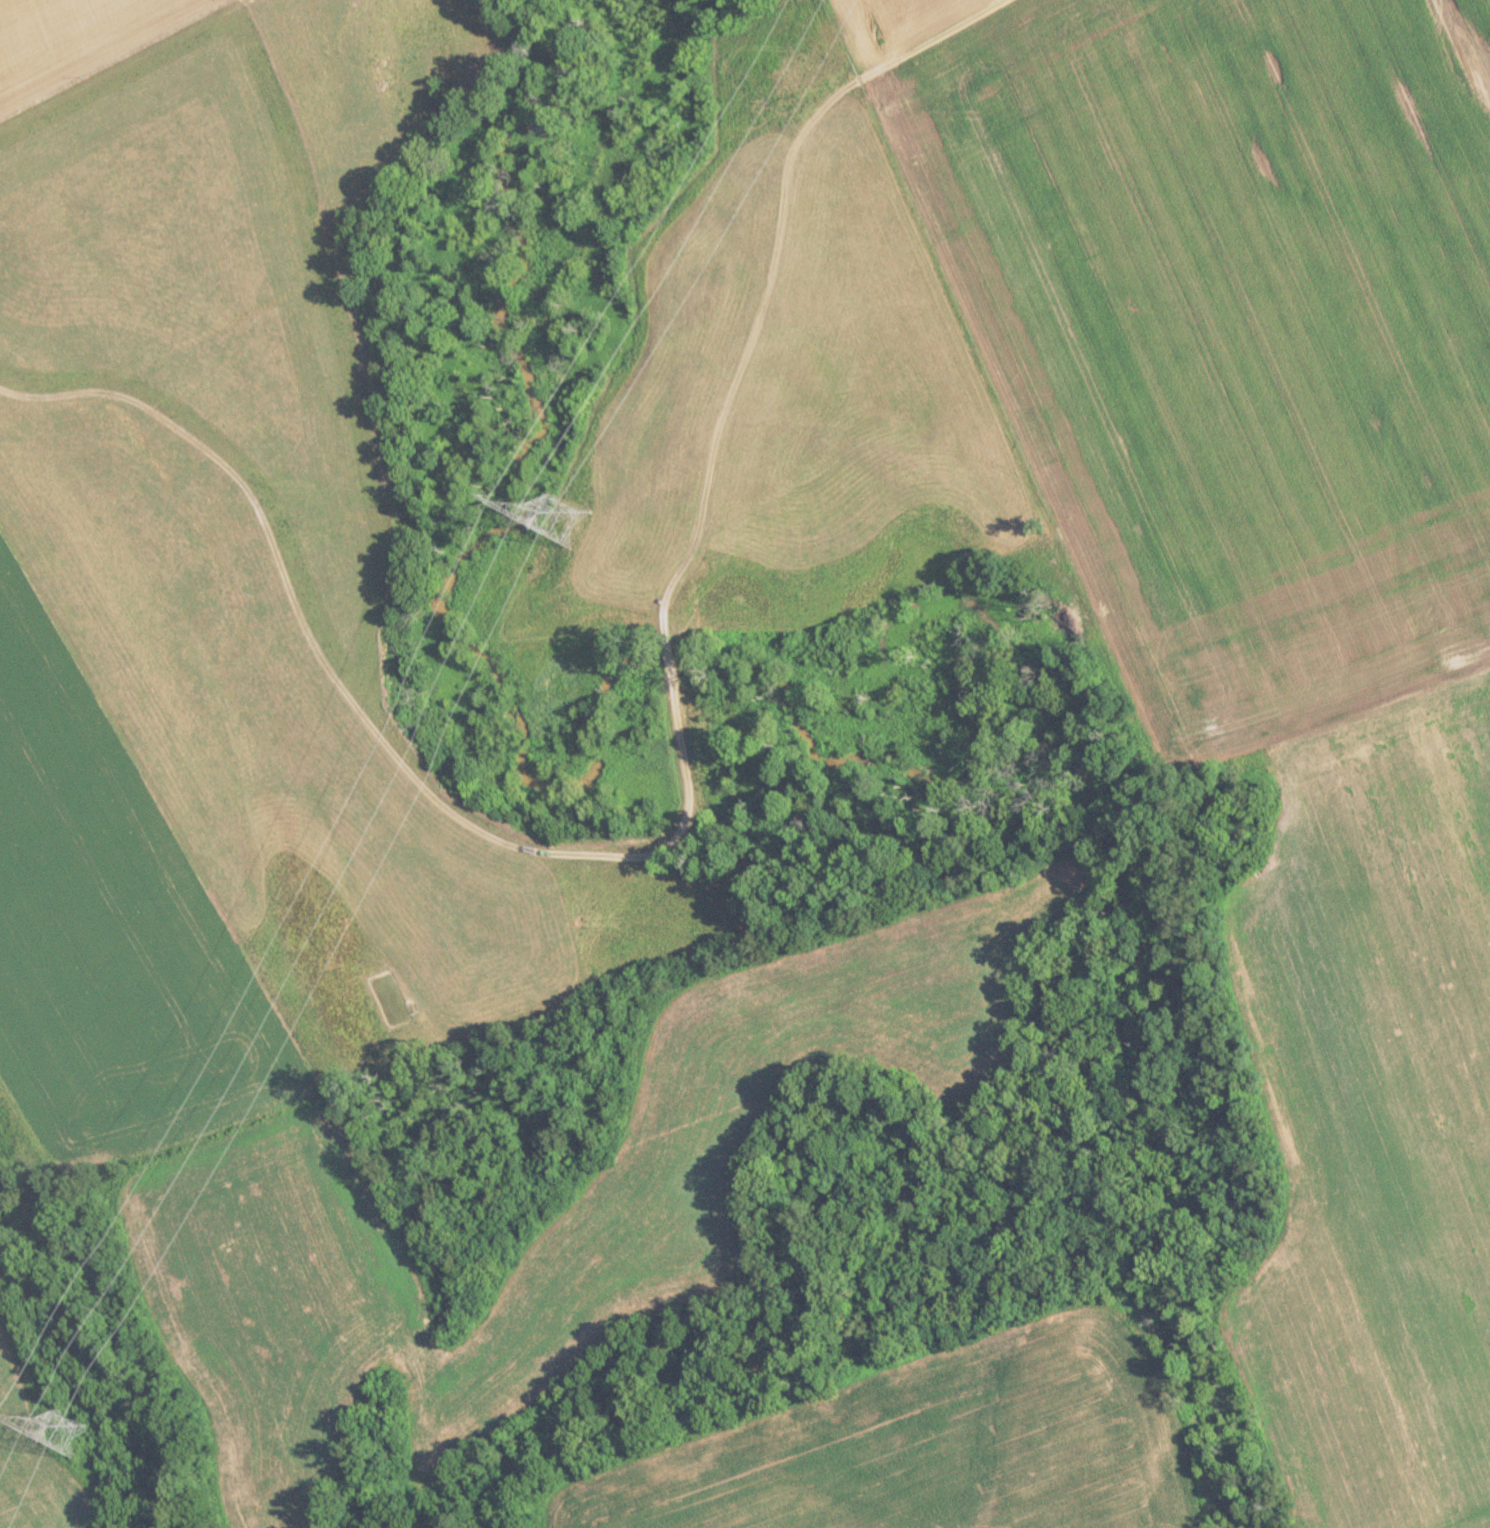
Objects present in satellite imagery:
power tower: (565, 521)
power tower: (69, 1430)

